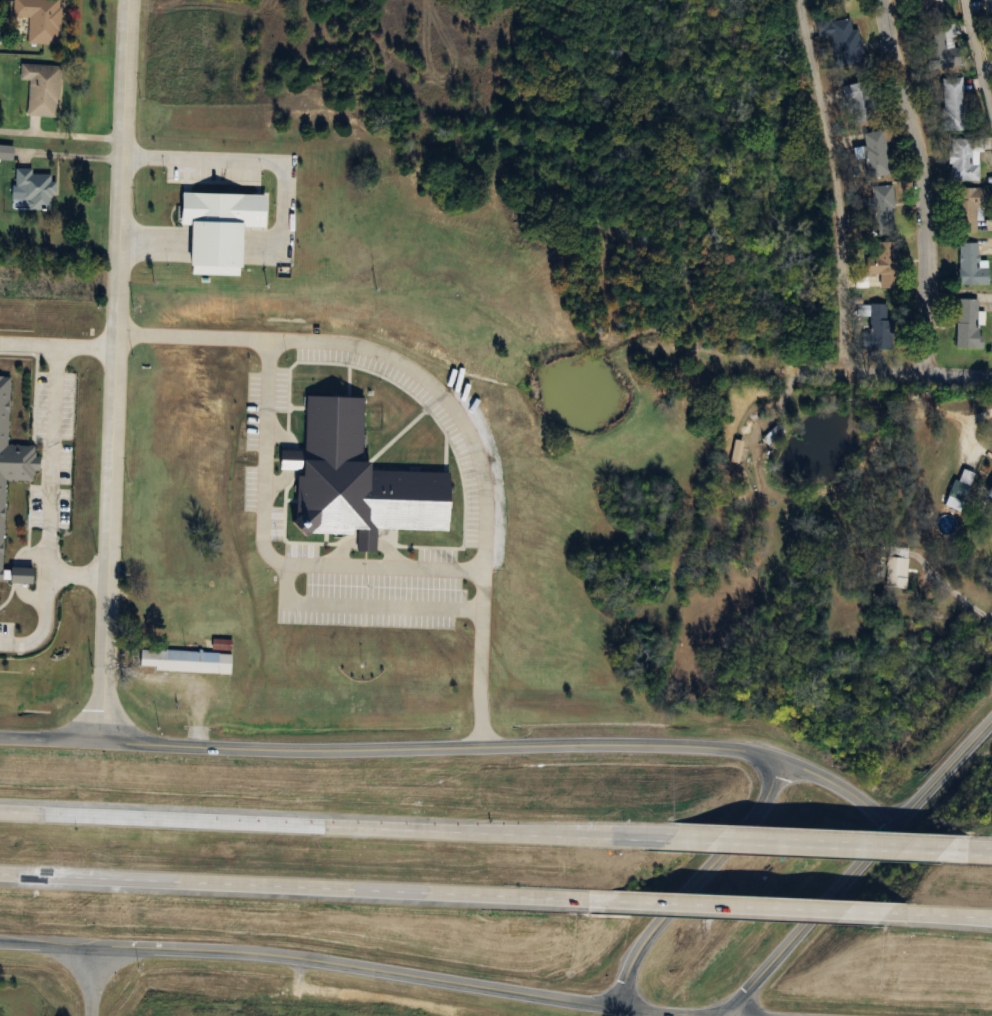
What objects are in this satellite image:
building: (988, 10)
building: (38, 18)
building: (936, 37)
building: (841, 39)
building: (991, 46)
road: (976, 60)
building: (40, 87)
building: (855, 104)
building: (952, 104)
road: (62, 131)
building: (5, 151)
building: (874, 154)
building: (962, 160)
road: (238, 162)
road: (921, 185)
building: (32, 188)
building: (881, 206)
building: (965, 209)
road: (836, 224)
building: (222, 231)
road: (139, 245)
building: (883, 263)
building: (970, 266)
building: (966, 324)
road: (26, 340)
road: (114, 370)
road: (957, 376)
road: (449, 403)
road: (964, 428)
building: (11, 454)
road: (48, 455)
building: (357, 482)
building: (990, 488)
road: (266, 556)
building: (895, 567)
building: (20, 574)
road: (952, 590)
road: (366, 609)
road: (40, 622)
building: (187, 664)
road: (457, 747)
road: (333, 826)
road: (810, 845)
road: (972, 850)
road: (857, 868)
road: (694, 882)
road: (298, 887)
road: (761, 906)
road: (959, 915)
road: (46, 945)
road: (395, 974)
road: (91, 982)
building: (260, 1012)

